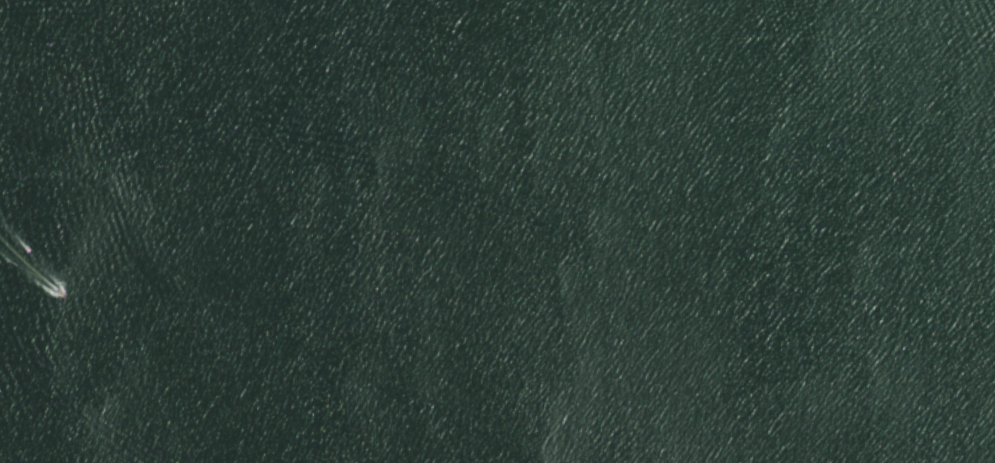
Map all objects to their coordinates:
park: (497, 231)

